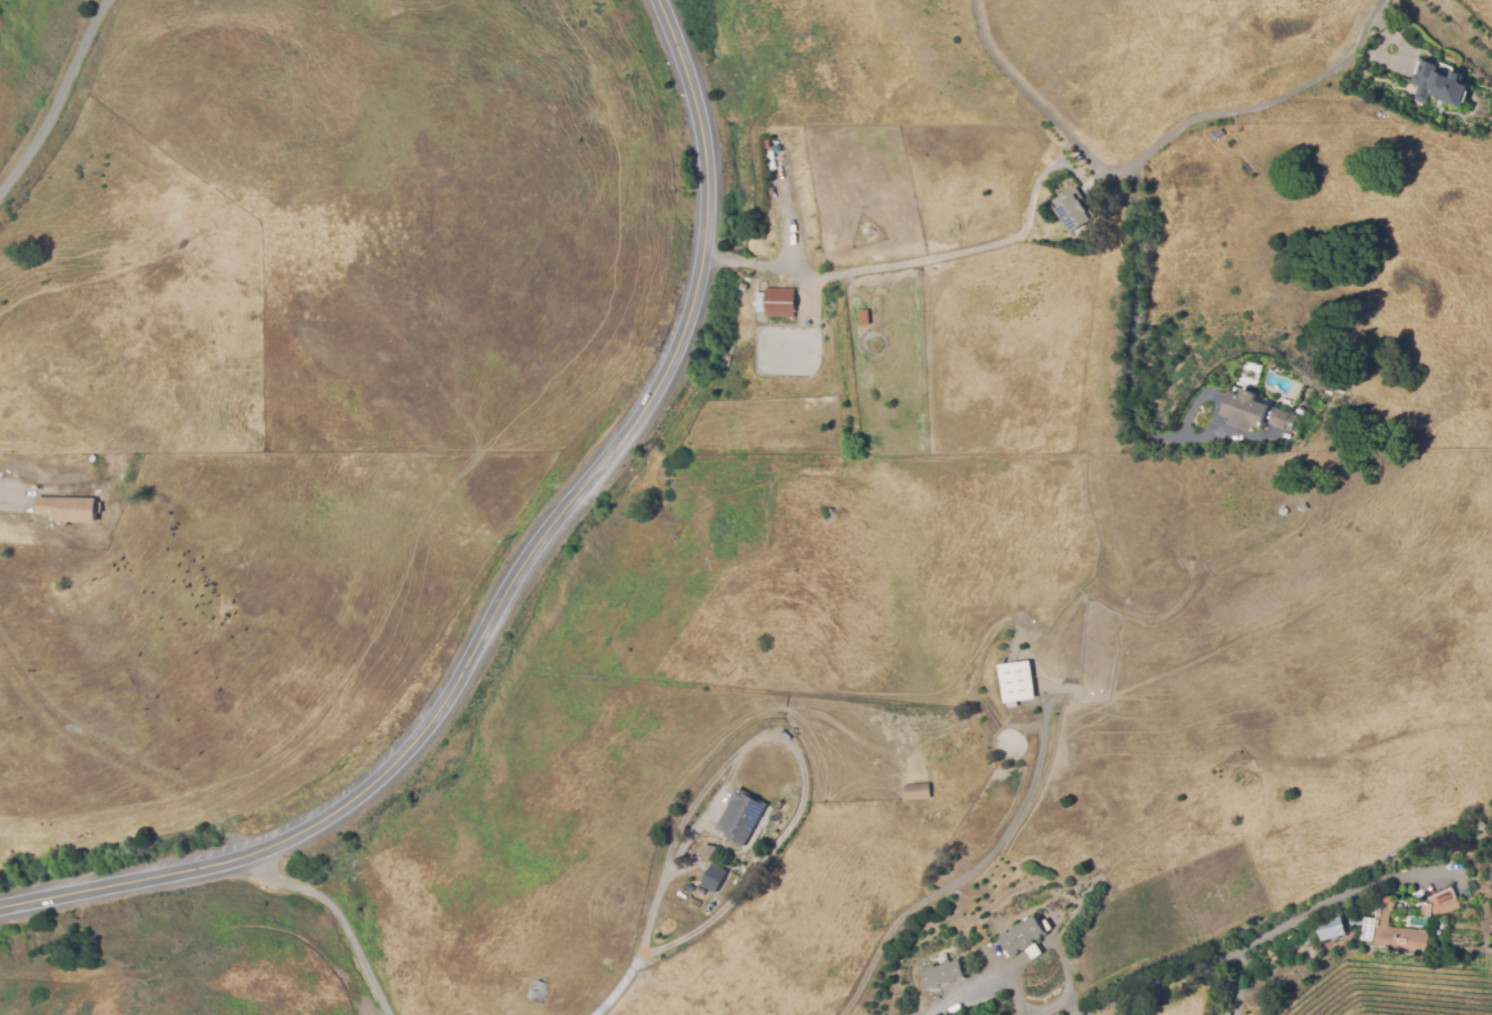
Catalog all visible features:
building: (1319, 40)
building: (1441, 83)
road: (1030, 94)
road: (60, 101)
road: (1261, 106)
building: (1220, 134)
building: (1061, 173)
building: (1073, 211)
road: (931, 255)
building: (771, 300)
building: (864, 317)
road: (1130, 337)
building: (1252, 412)
road: (13, 497)
building: (65, 508)
road: (506, 577)
building: (1018, 683)
road: (787, 748)
building: (917, 793)
building: (744, 813)
building: (709, 853)
building: (1490, 873)
building: (716, 876)
building: (1439, 905)
road: (336, 917)
building: (1332, 928)
building: (1396, 931)
road: (1267, 936)
building: (1025, 939)
road: (1041, 953)
building: (942, 975)
road: (615, 988)
road: (1016, 993)

